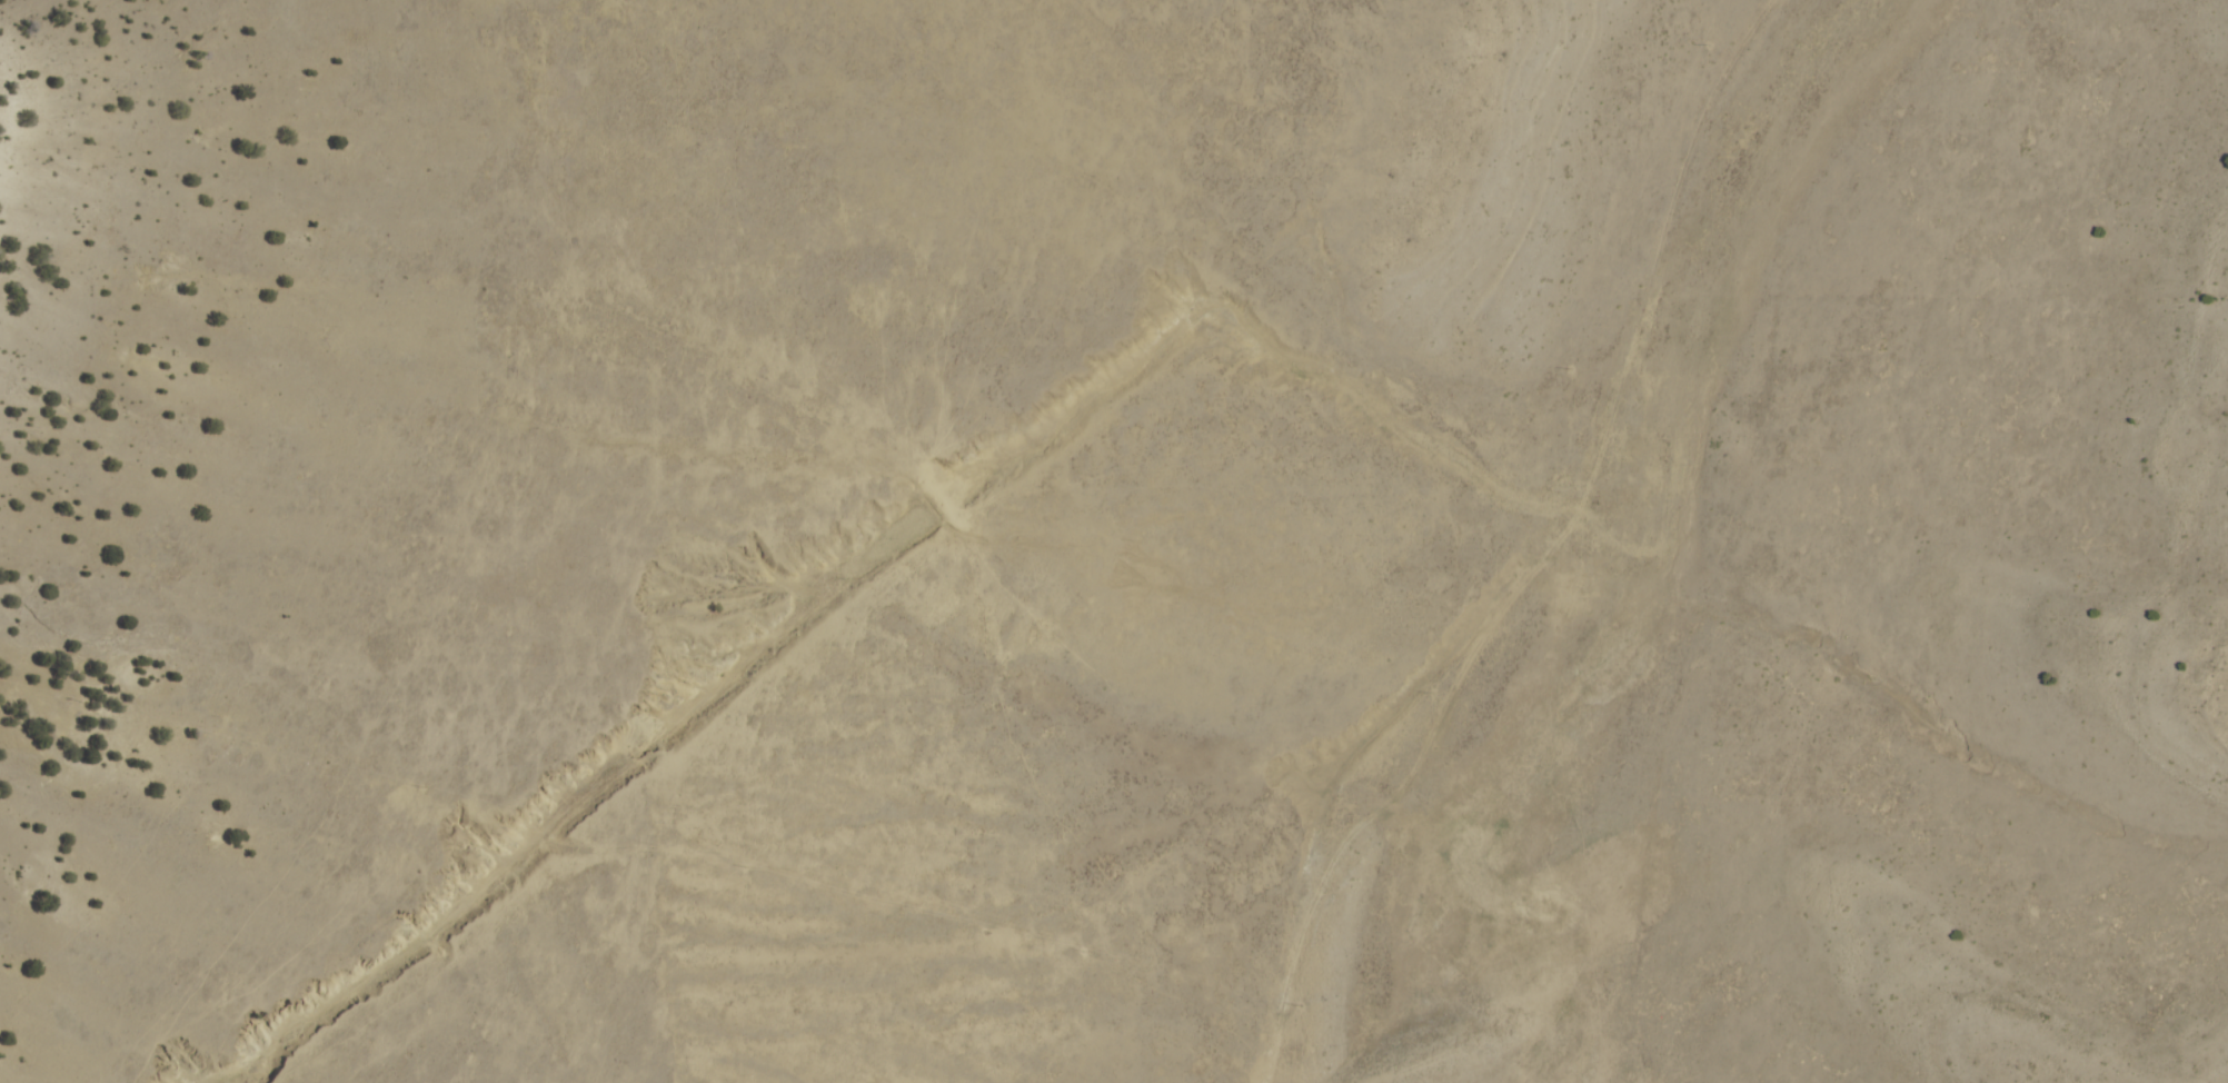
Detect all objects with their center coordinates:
road: (1593, 578)

